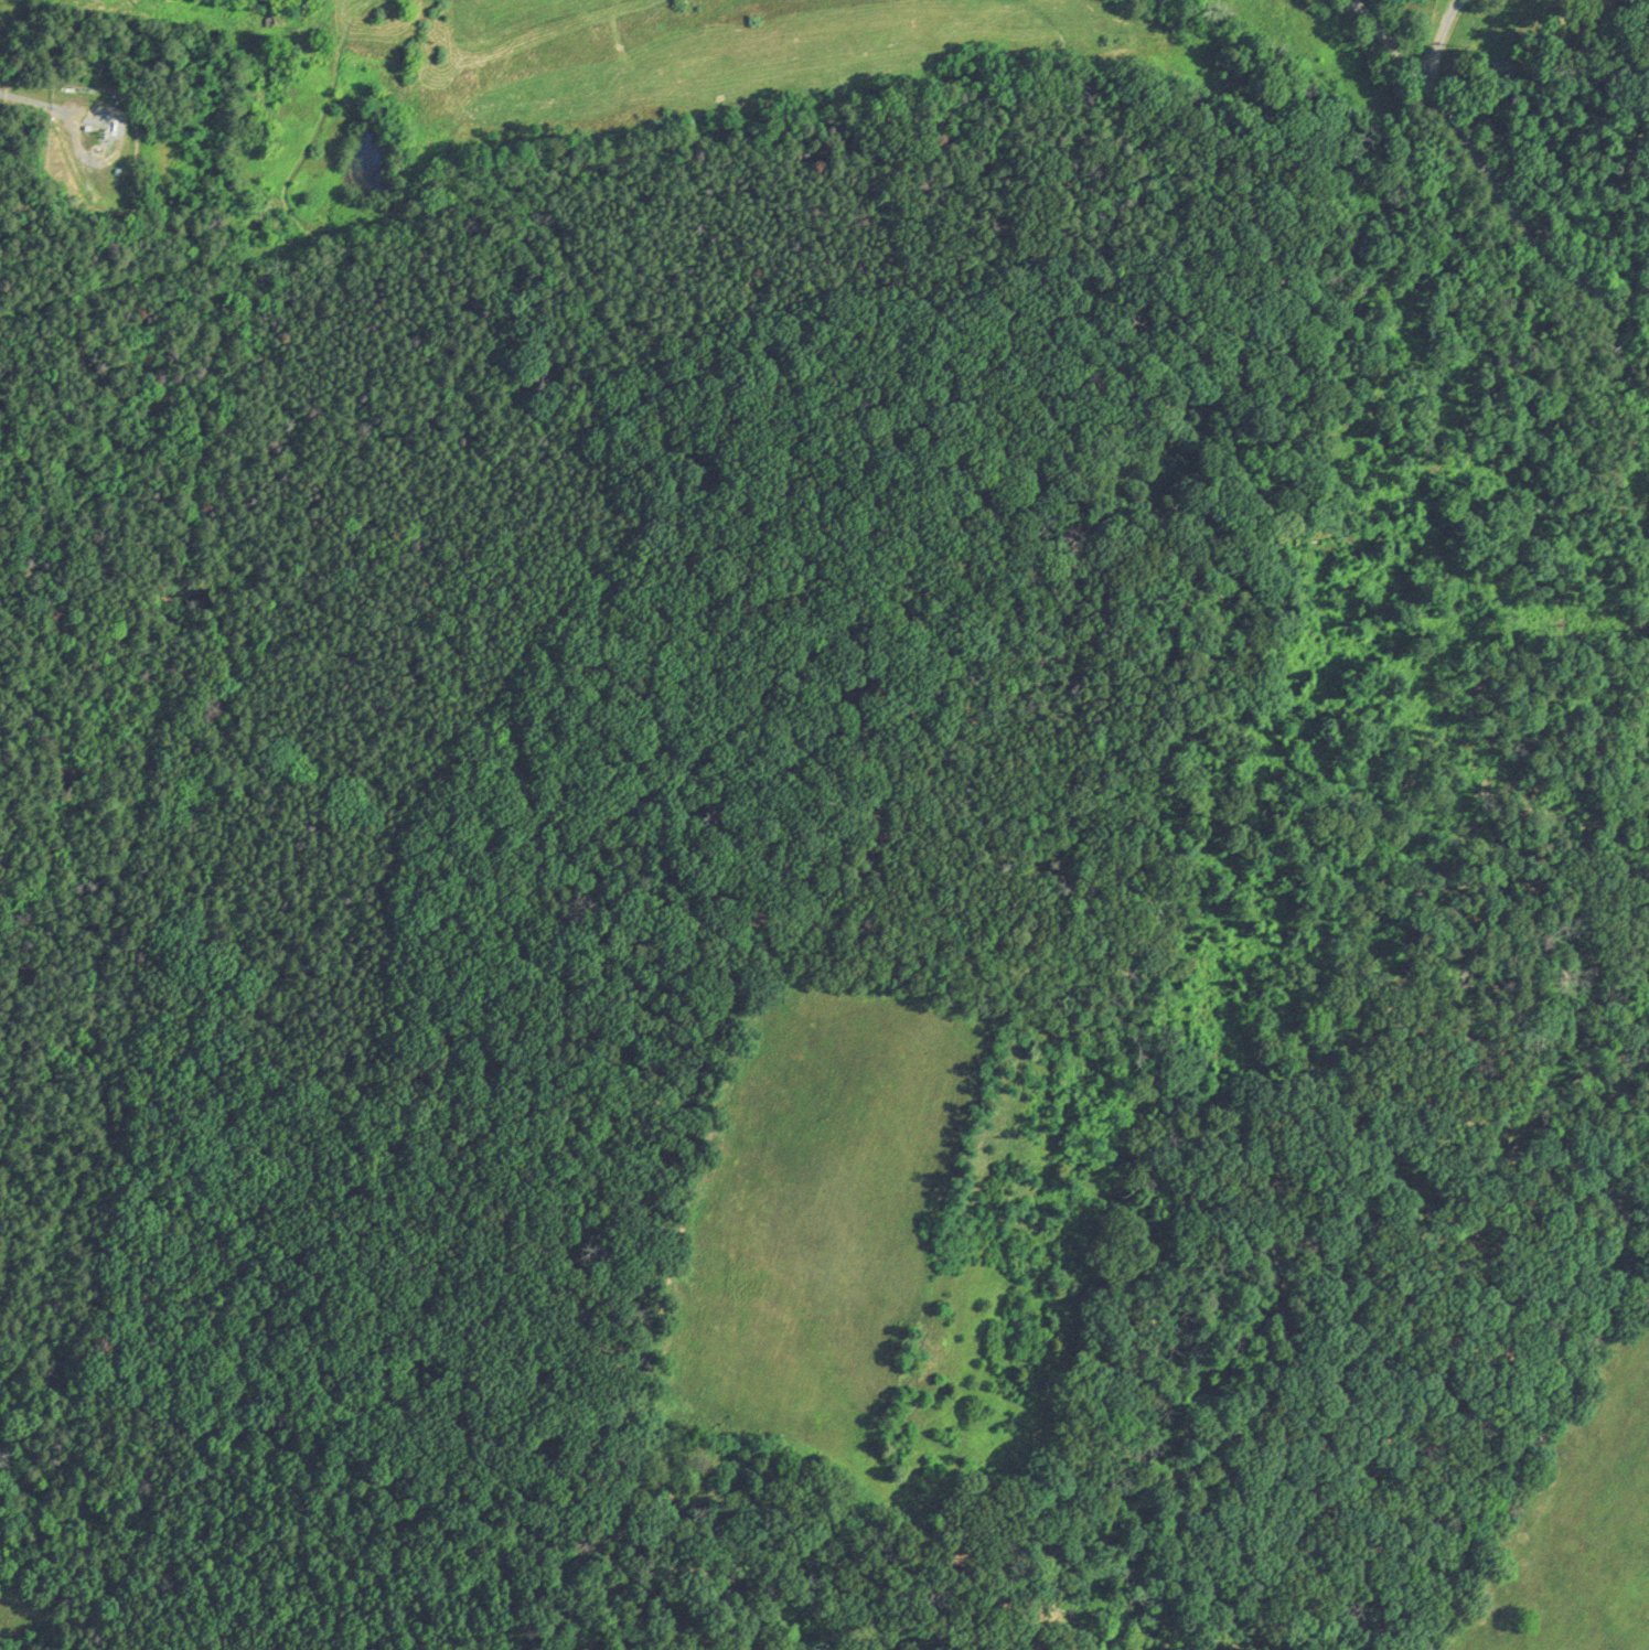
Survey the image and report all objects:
road: (1490, 174)

